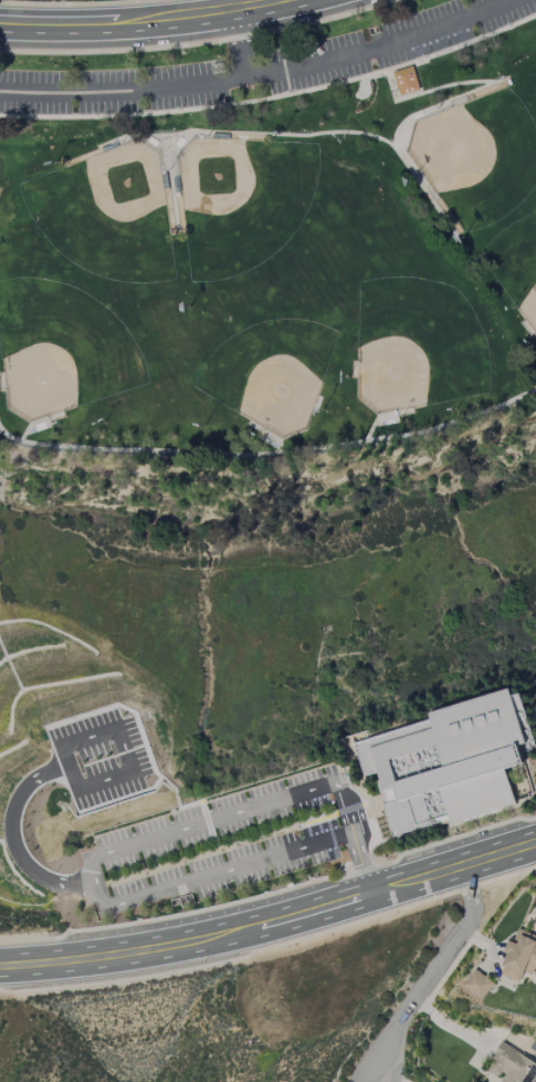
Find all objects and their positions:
road: (81, 4)
road: (108, 10)
road: (166, 28)
road: (240, 39)
road: (481, 39)
road: (202, 44)
parking lot: (263, 65)
road: (260, 74)
building: (408, 83)
road: (454, 84)
road: (398, 87)
road: (193, 111)
road: (462, 113)
road: (329, 133)
road: (170, 134)
road: (409, 150)
park: (473, 157)
road: (187, 176)
road: (221, 177)
road: (97, 184)
road: (133, 184)
park: (244, 204)
park: (107, 217)
park: (517, 270)
park: (271, 273)
road: (517, 309)
park: (414, 350)
park: (63, 351)
park: (266, 365)
road: (320, 379)
road: (77, 407)
road: (375, 415)
road: (397, 415)
road: (64, 417)
road: (367, 435)
road: (22, 439)
road: (276, 449)
road: (278, 451)
road: (270, 454)
road: (123, 724)
building: (451, 762)
road: (356, 776)
road: (533, 795)
road: (357, 819)
road: (14, 830)
road: (413, 833)
road: (459, 836)
parking lot: (158, 839)
road: (372, 845)
road: (218, 851)
road: (359, 865)
road: (385, 868)
road: (360, 870)
road: (347, 876)
road: (99, 880)
road: (109, 911)
road: (272, 913)
road: (170, 918)
road: (271, 934)
road: (271, 948)
building: (519, 956)
road: (437, 967)
building: (477, 984)
building: (512, 1065)
road: (378, 1080)

